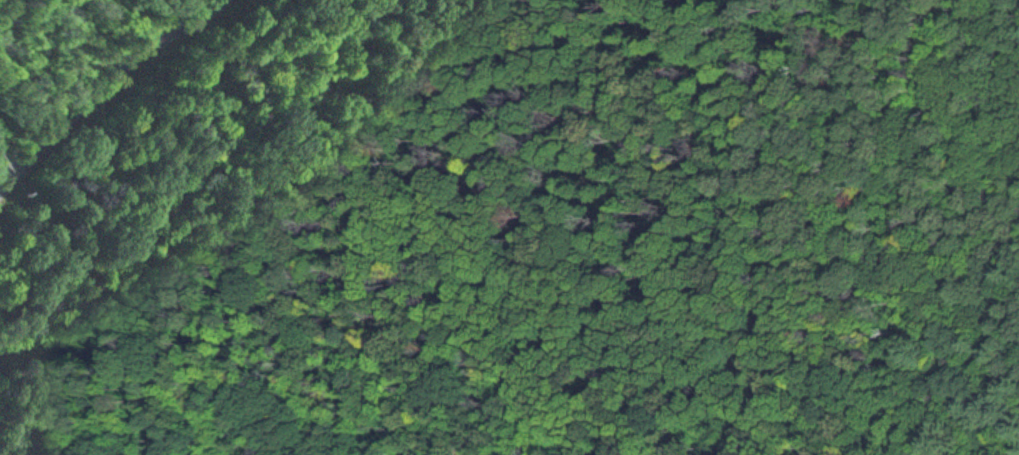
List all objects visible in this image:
road: (108, 85)
road: (595, 289)
road: (82, 301)
road: (379, 444)

